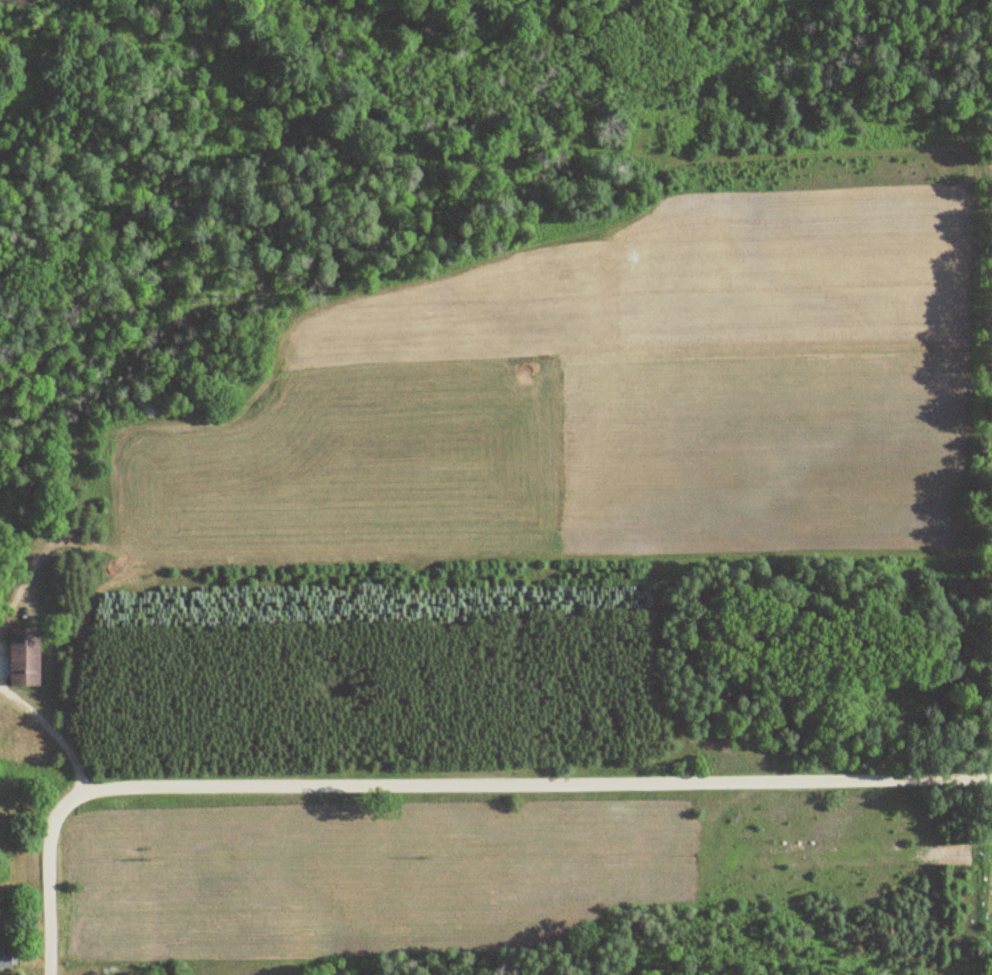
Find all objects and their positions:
building: (26, 655)
road: (536, 783)
road: (52, 877)
building: (7, 958)

